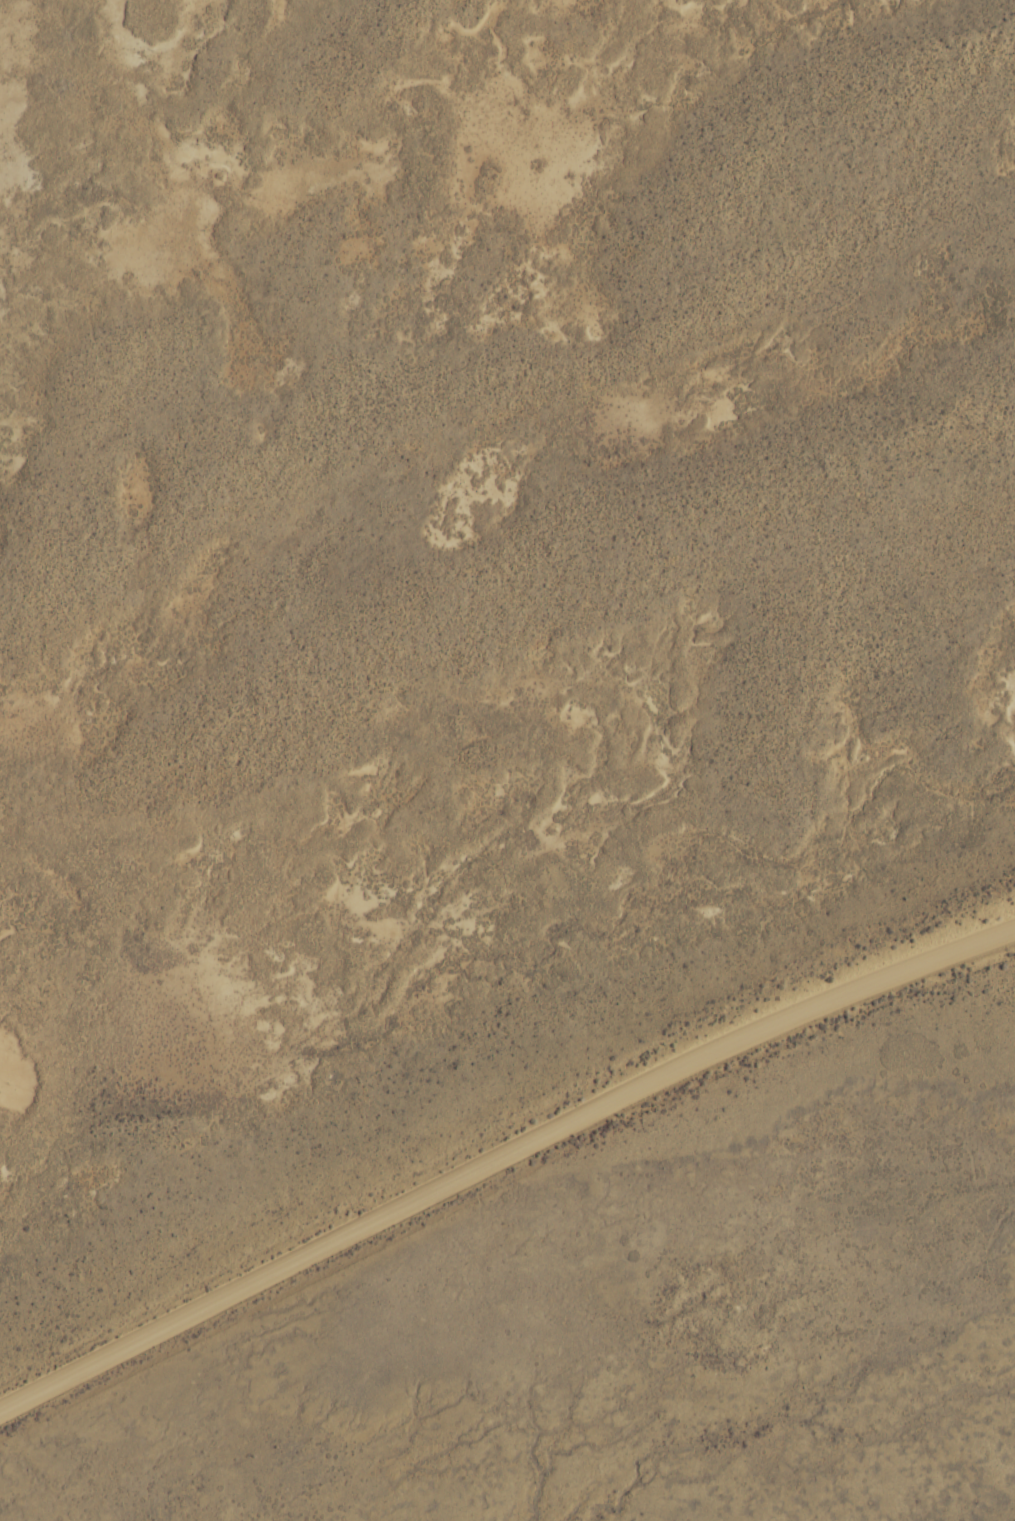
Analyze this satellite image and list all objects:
road: (501, 1156)

